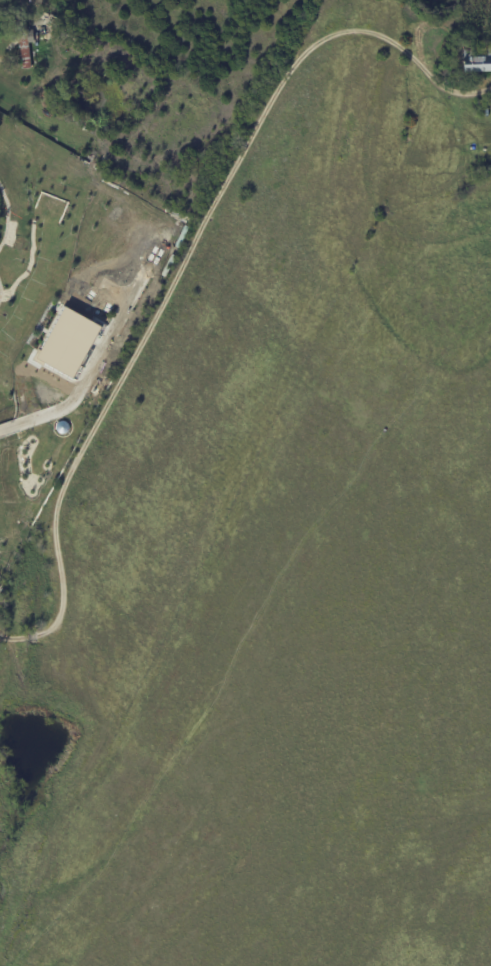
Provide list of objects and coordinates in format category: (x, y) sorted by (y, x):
building: (24, 46)
building: (478, 60)
building: (480, 103)
road: (102, 150)
building: (196, 162)
road: (185, 256)
building: (68, 343)

